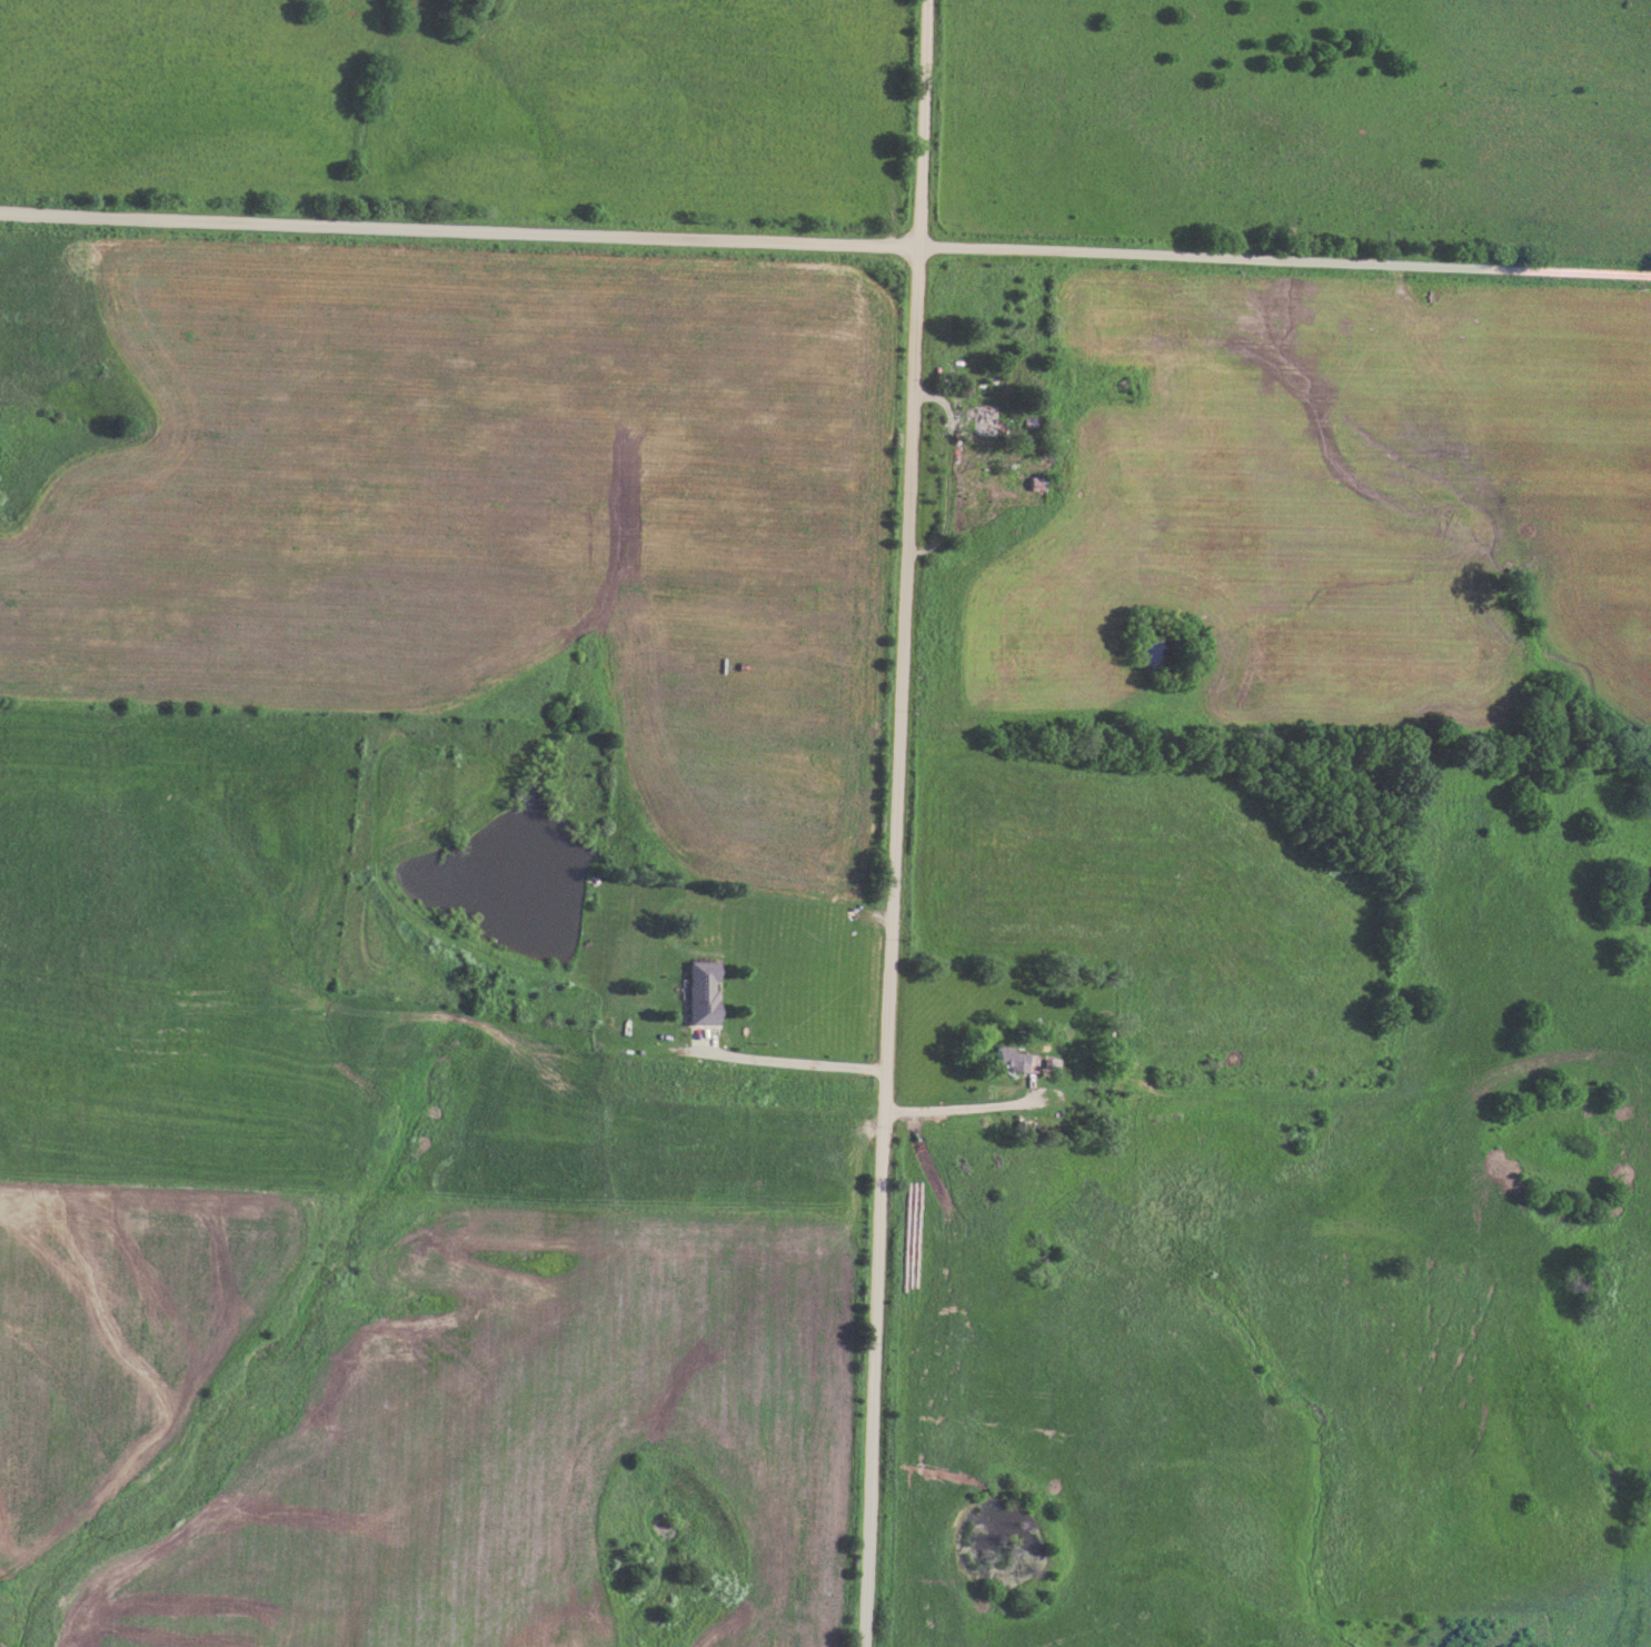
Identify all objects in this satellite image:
road: (825, 240)
building: (981, 420)
road: (949, 469)
road: (896, 823)
building: (699, 994)
building: (1005, 1058)
road: (786, 1062)
road: (968, 1102)

